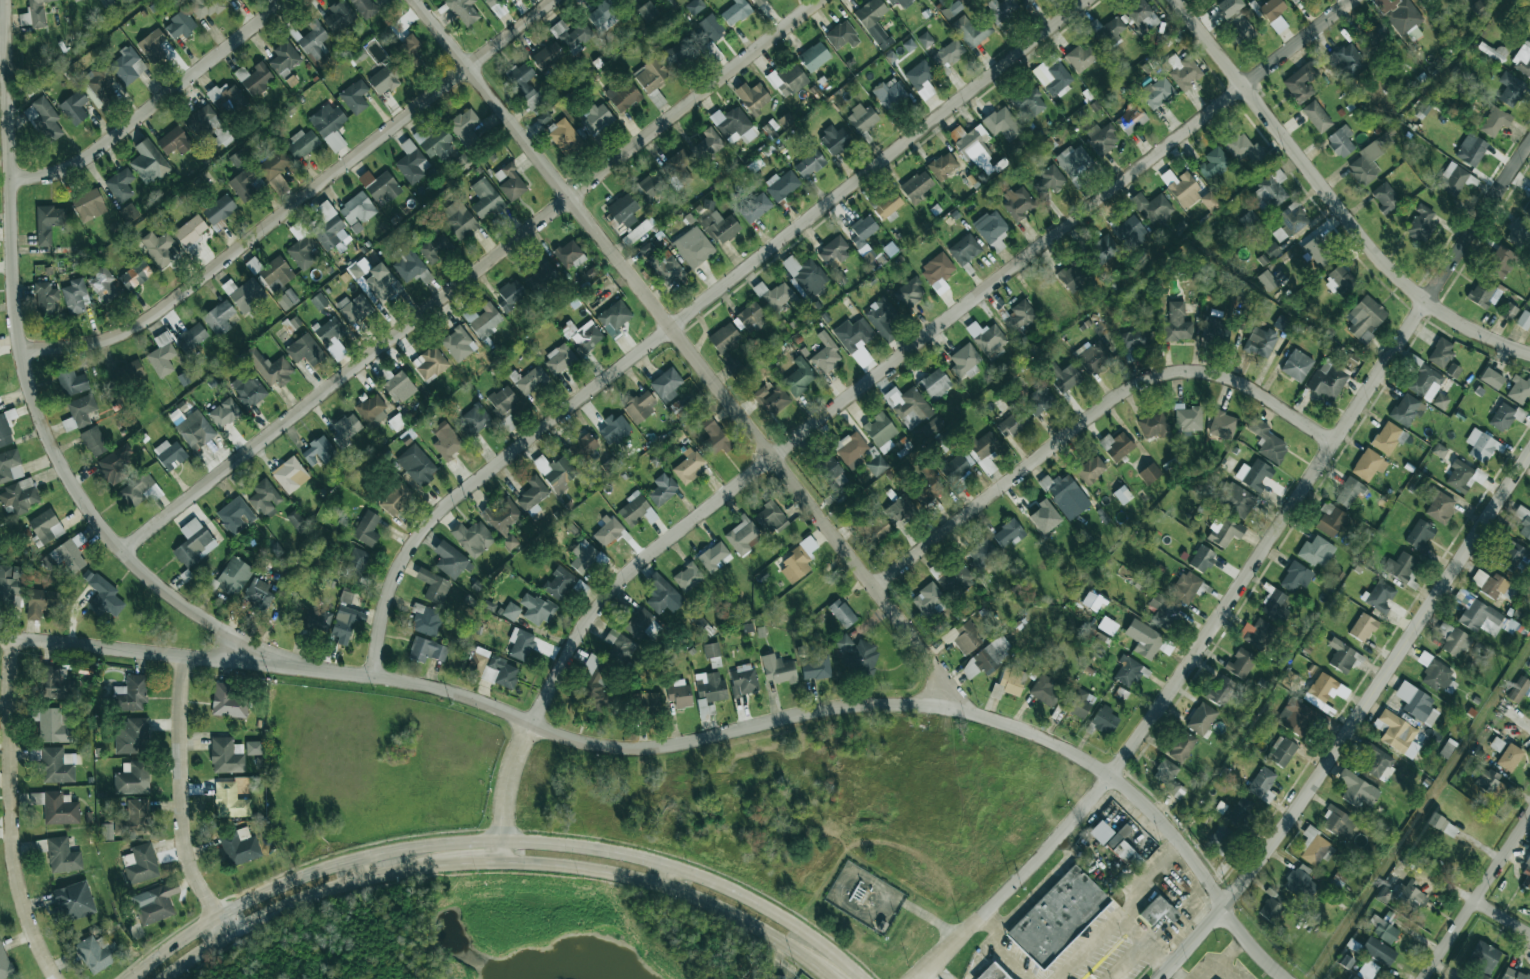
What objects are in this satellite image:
building: (75, 0)
building: (1295, 0)
building: (1422, 0)
building: (228, 1)
building: (624, 1)
building: (754, 1)
building: (1025, 1)
building: (491, 2)
building: (899, 2)
building: (694, 6)
building: (204, 7)
building: (364, 7)
building: (1228, 7)
building: (951, 9)
building: (1000, 10)
building: (463, 11)
building: (647, 11)
building: (735, 12)
building: (34, 14)
building: (1273, 14)
building: (339, 16)
building: (1141, 16)
building: (602, 17)
building: (1400, 17)
building: (872, 18)
building: (179, 25)
building: (1241, 28)
building: (710, 29)
building: (971, 31)
building: (1108, 31)
building: (571, 34)
building: (1374, 34)
building: (842, 35)
building: (925, 39)
building: (314, 40)
building: (152, 46)
building: (407, 53)
building: (948, 53)
building: (680, 54)
building: (547, 56)
building: (814, 56)
building: (1081, 57)
building: (284, 58)
building: (1522, 58)
building: (1346, 61)
building: (127, 66)
building: (1184, 73)
building: (650, 75)
building: (1053, 76)
building: (254, 78)
building: (384, 79)
building: (921, 79)
building: (787, 80)
building: (1301, 82)
building: (522, 83)
building: (99, 86)
building: (1510, 89)
building: (1158, 92)
building: (889, 94)
building: (354, 96)
building: (622, 96)
building: (752, 96)
building: (226, 99)
road: (156, 104)
building: (1029, 104)
building: (74, 107)
building: (1316, 116)
building: (543, 117)
building: (862, 118)
building: (1131, 118)
building: (44, 119)
building: (596, 119)
building: (785, 120)
building: (328, 121)
building: (1495, 121)
building: (202, 122)
building: (1001, 124)
building: (464, 125)
building: (734, 125)
building: (564, 136)
building: (1101, 138)
building: (834, 140)
building: (174, 141)
building: (1340, 141)
building: (434, 142)
building: (302, 144)
building: (708, 144)
building: (974, 148)
building: (1471, 149)
building: (1245, 150)
building: (1369, 159)
building: (1073, 161)
building: (148, 162)
building: (410, 162)
building: (809, 162)
building: (1213, 163)
building: (943, 166)
building: (679, 167)
building: (275, 169)
building: (1452, 178)
building: (1048, 181)
building: (509, 182)
building: (245, 184)
building: (120, 185)
building: (380, 185)
building: (781, 185)
building: (648, 187)
building: (916, 187)
building: (1181, 187)
building: (1268, 194)
building: (1385, 197)
building: (485, 199)
road: (1334, 199)
building: (1209, 201)
road: (299, 202)
building: (1018, 203)
building: (88, 205)
building: (887, 205)
building: (1527, 207)
building: (755, 208)
building: (1152, 208)
building: (357, 209)
building: (623, 210)
building: (219, 211)
building: (128, 213)
building: (458, 220)
building: (1249, 220)
building: (1290, 221)
building: (48, 222)
building: (1421, 224)
building: (327, 227)
building: (720, 227)
building: (992, 229)
building: (190, 230)
building: (862, 230)
building: (638, 231)
building: (1129, 231)
building: (1518, 232)
building: (693, 246)
building: (157, 247)
building: (435, 247)
building: (645, 249)
building: (964, 249)
building: (1102, 250)
building: (1318, 251)
building: (302, 252)
building: (834, 253)
building: (569, 254)
building: (1501, 263)
building: (408, 266)
building: (666, 267)
building: (937, 272)
building: (276, 274)
building: (135, 275)
building: (542, 275)
building: (805, 275)
road: (471, 276)
building: (1071, 277)
building: (376, 279)
building: (1267, 280)
building: (1338, 280)
building: (102, 284)
building: (909, 293)
building: (1486, 293)
building: (511, 294)
building: (74, 296)
building: (45, 298)
building: (319, 301)
building: (354, 308)
building: (1508, 311)
road: (693, 312)
building: (750, 315)
building: (880, 316)
building: (1019, 316)
building: (219, 318)
building: (614, 318)
building: (1365, 318)
building: (483, 320)
building: (1523, 320)
building: (1177, 323)
building: (1283, 324)
building: (1216, 330)
building: (581, 333)
building: (853, 334)
building: (330, 335)
building: (1135, 337)
building: (191, 338)
building: (724, 338)
road: (920, 342)
building: (1260, 342)
building: (458, 344)
building: (304, 350)
road: (690, 352)
building: (1441, 352)
building: (826, 354)
building: (162, 355)
building: (1094, 357)
building: (559, 359)
building: (964, 360)
building: (430, 363)
building: (1296, 365)
building: (734, 366)
building: (270, 368)
building: (1452, 370)
building: (129, 371)
building: (799, 377)
building: (1064, 377)
building: (1491, 378)
road: (28, 379)
building: (529, 380)
building: (1327, 380)
building: (71, 382)
building: (1425, 382)
building: (935, 384)
building: (666, 385)
building: (398, 387)
building: (1519, 389)
building: (250, 391)
building: (770, 399)
building: (503, 400)
building: (1039, 401)
building: (1440, 401)
building: (908, 403)
building: (641, 405)
building: (1406, 409)
building: (371, 410)
building: (80, 411)
building: (224, 413)
road: (1092, 417)
building: (1502, 417)
building: (1188, 419)
building: (1012, 421)
building: (473, 422)
building: (1153, 424)
building: (1223, 425)
building: (932, 426)
building: (6, 428)
building: (614, 428)
building: (344, 429)
building: (195, 430)
building: (881, 432)
building: (715, 437)
building: (1388, 437)
building: (446, 440)
building: (94, 441)
building: (1267, 441)
building: (984, 445)
building: (1116, 445)
building: (1482, 445)
building: (584, 447)
building: (851, 449)
building: (1439, 450)
building: (318, 451)
building: (170, 454)
building: (416, 464)
building: (115, 465)
building: (689, 465)
building: (877, 465)
building: (1368, 465)
building: (10, 466)
building: (609, 466)
building: (954, 469)
building: (1090, 469)
building: (831, 472)
building: (557, 473)
building: (1150, 473)
building: (1254, 474)
building: (289, 475)
building: (1463, 476)
building: (928, 488)
building: (136, 489)
building: (662, 489)
building: (1062, 489)
building: (1349, 492)
building: (1122, 494)
building: (532, 495)
building: (20, 496)
building: (264, 497)
building: (395, 498)
building: (1234, 498)
building: (1440, 507)
building: (634, 508)
building: (898, 509)
building: (235, 515)
building: (1045, 516)
building: (770, 517)
building: (294, 518)
building: (503, 520)
building: (1330, 520)
building: (46, 526)
building: (1525, 526)
building: (367, 528)
building: (872, 529)
building: (607, 531)
building: (1223, 531)
building: (1009, 533)
building: (1420, 535)
building: (741, 536)
building: (472, 538)
building: (193, 543)
building: (1316, 551)
building: (981, 553)
building: (583, 554)
building: (1511, 556)
building: (714, 557)
building: (64, 558)
building: (1202, 558)
building: (451, 560)
building: (797, 561)
building: (355, 563)
building: (1401, 566)
building: (233, 575)
building: (688, 577)
building: (958, 577)
road: (1243, 577)
building: (1296, 577)
building: (12, 582)
building: (559, 583)
building: (1489, 583)
building: (434, 586)
building: (1185, 587)
building: (660, 593)
building: (102, 595)
building: (258, 595)
building: (346, 595)
building: (1380, 596)
building: (927, 600)
building: (1093, 601)
building: (40, 602)
building: (1274, 604)
building: (536, 608)
building: (511, 611)
building: (1163, 611)
building: (842, 613)
building: (1481, 615)
building: (317, 619)
building: (426, 619)
building: (639, 622)
building: (344, 625)
building: (1107, 625)
building: (1363, 627)
building: (1256, 633)
building: (964, 637)
building: (1144, 639)
building: (520, 643)
building: (619, 646)
building: (426, 650)
building: (711, 650)
building: (858, 654)
building: (1344, 656)
building: (987, 657)
building: (1240, 663)
building: (815, 667)
building: (491, 668)
building: (777, 669)
building: (1128, 671)
building: (1438, 676)
building: (743, 679)
building: (1012, 680)
building: (1290, 680)
building: (50, 682)
building: (596, 684)
power tower: (1504, 686)
building: (1519, 689)
building: (1221, 690)
building: (1324, 690)
building: (1046, 691)
building: (709, 692)
building: (131, 693)
building: (679, 694)
building: (1529, 697)
building: (227, 702)
building: (1078, 702)
building: (645, 703)
building: (1416, 703)
building: (1529, 709)
building: (1295, 716)
building: (1104, 719)
building: (1201, 719)
road: (1514, 719)
road: (1353, 724)
building: (52, 726)
building: (1397, 733)
building: (130, 736)
road: (694, 740)
building: (1496, 743)
building: (1181, 746)
building: (1281, 751)
building: (221, 754)
building: (1509, 757)
building: (1378, 763)
building: (56, 765)
building: (132, 778)
building: (1169, 778)
building: (1487, 781)
building: (1262, 784)
building: (1357, 789)
road: (508, 791)
building: (36, 798)
road: (179, 801)
building: (229, 801)
building: (59, 809)
road: (10, 812)
building: (1238, 813)
building: (136, 815)
building: (1338, 821)
building: (1442, 825)
building: (106, 831)
building: (1100, 832)
building: (1220, 839)
road: (497, 840)
building: (240, 847)
building: (1123, 847)
building: (1314, 847)
building: (62, 856)
building: (140, 863)
road: (498, 863)
building: (1526, 873)
road: (670, 877)
power tower: (1378, 880)
building: (1301, 881)
road: (1467, 892)
building: (1383, 894)
building: (1412, 895)
road: (1477, 900)
building: (74, 901)
building: (155, 903)
building: (1272, 907)
road: (1120, 911)
building: (1158, 911)
building: (1057, 916)
building: (1383, 929)
road: (1152, 946)
road: (1000, 948)
building: (1378, 951)
building: (97, 953)
building: (1484, 957)
road: (1129, 960)
river: (562, 961)
building: (1346, 962)
road: (1226, 963)
building: (4, 964)
building: (1367, 970)
road: (929, 973)
building: (991, 973)
road: (1230, 973)
building: (1513, 974)
building: (1482, 976)
building: (1354, 977)

